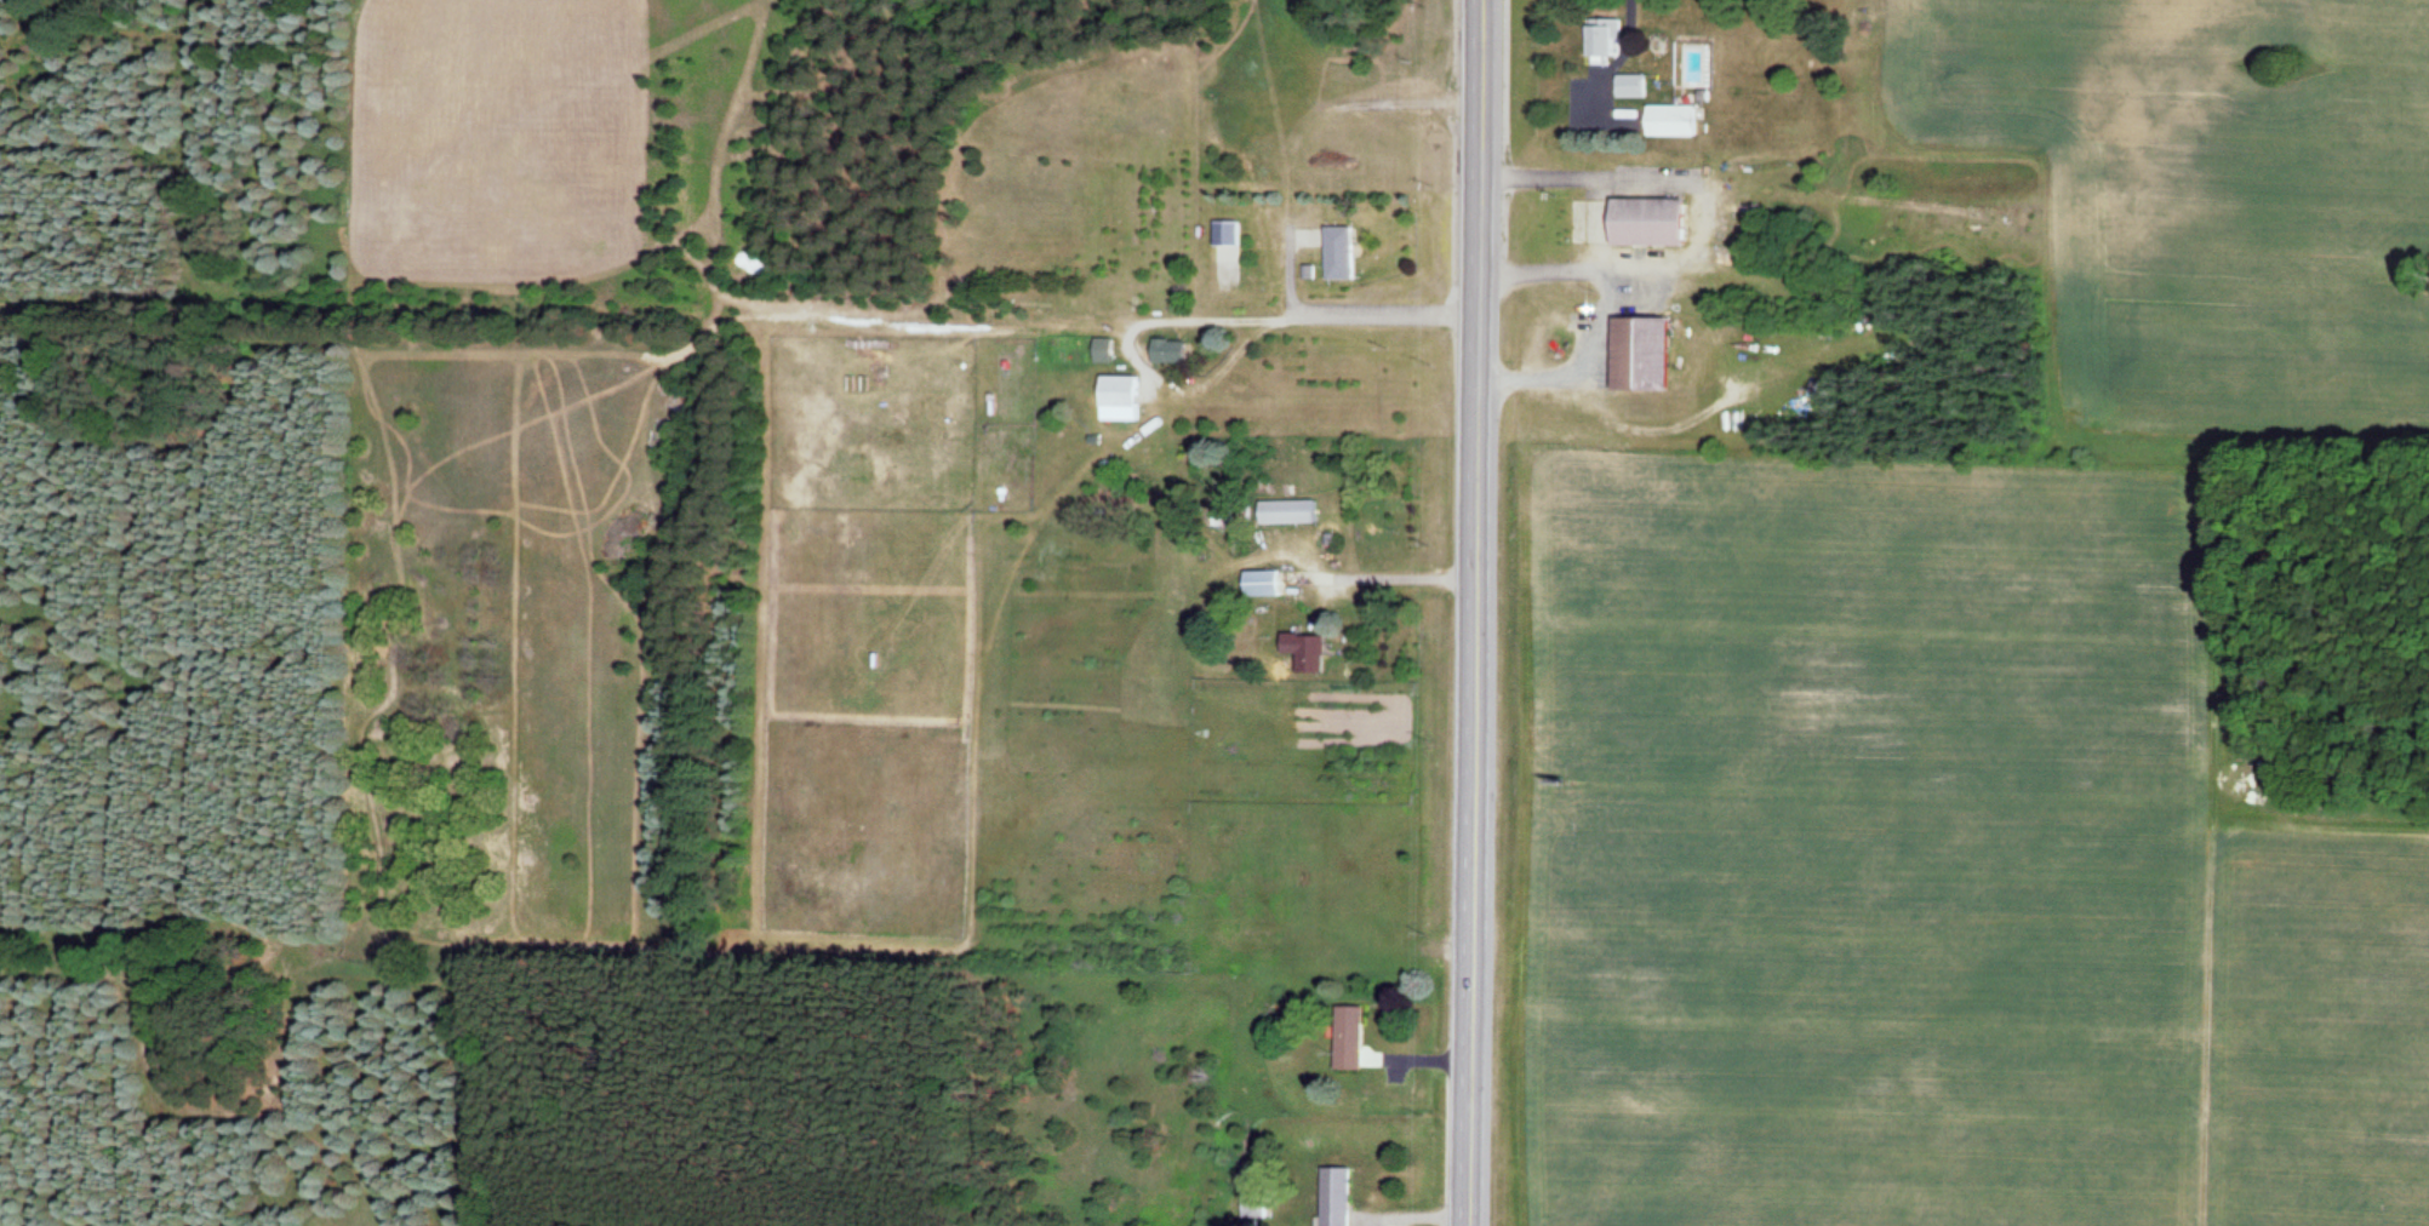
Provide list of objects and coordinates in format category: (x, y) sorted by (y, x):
building: (1604, 36)
building: (1631, 85)
building: (1670, 119)
building: (1644, 222)
building: (1224, 233)
building: (1336, 252)
building: (1166, 351)
building: (1638, 353)
building: (1116, 391)
building: (1285, 512)
building: (1219, 517)
building: (1259, 584)
road: (1471, 613)
building: (1303, 654)
building: (1345, 1038)
building: (1333, 1197)

